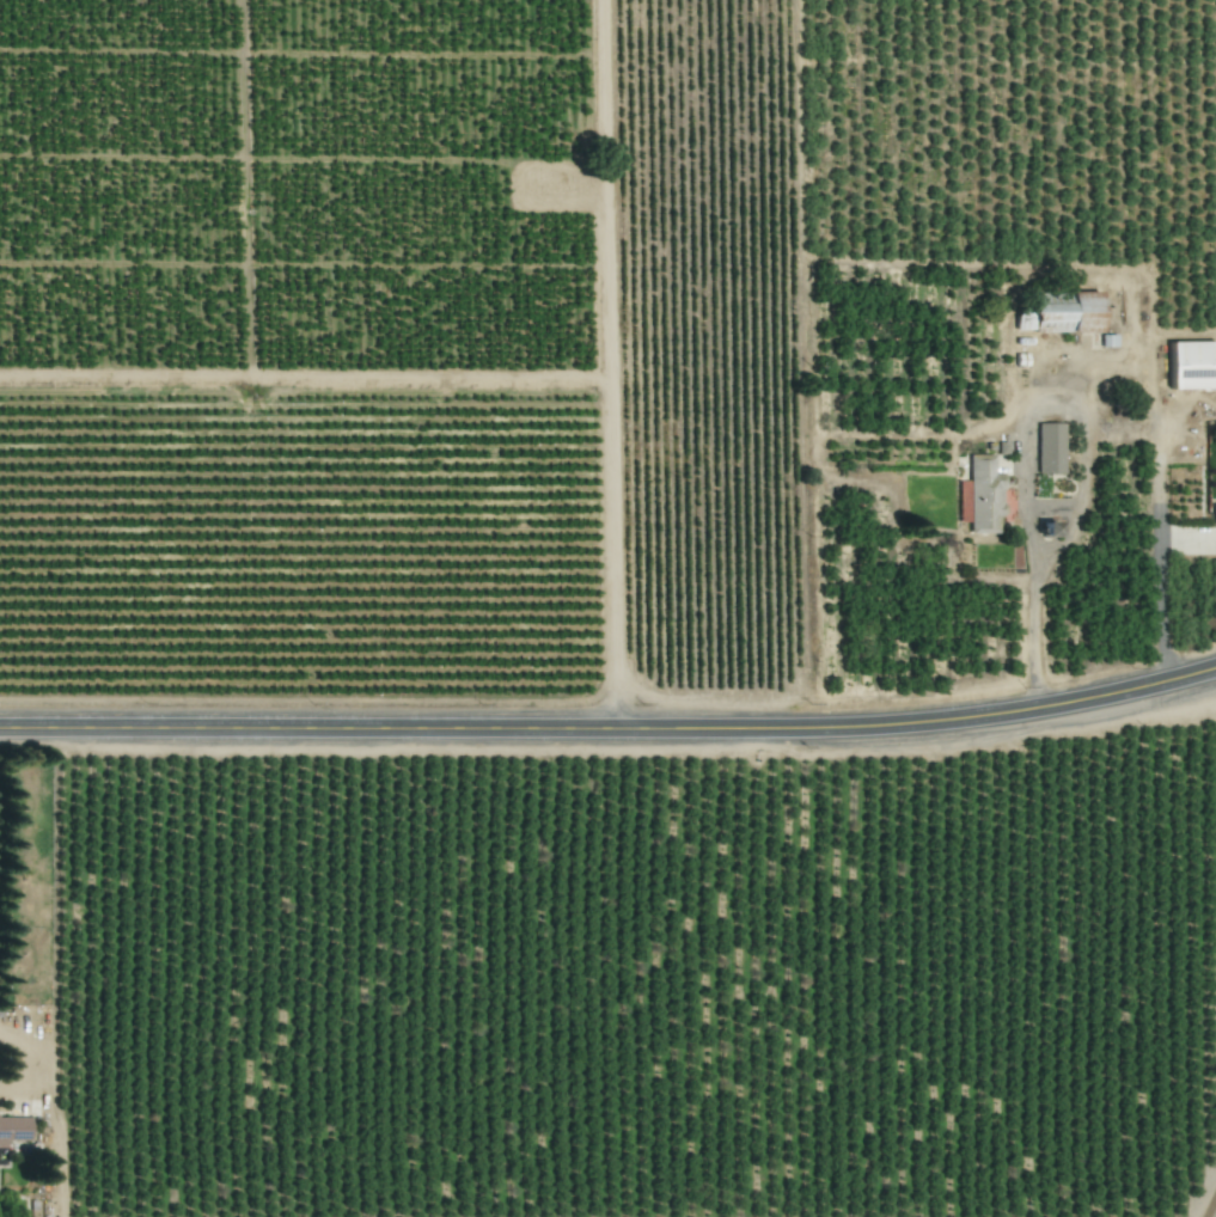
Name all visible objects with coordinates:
building: (1061, 314)
road: (611, 365)
building: (1192, 365)
road: (1020, 433)
building: (1050, 447)
building: (984, 495)
building: (1214, 514)
building: (1049, 528)
road: (1160, 585)
road: (610, 729)

